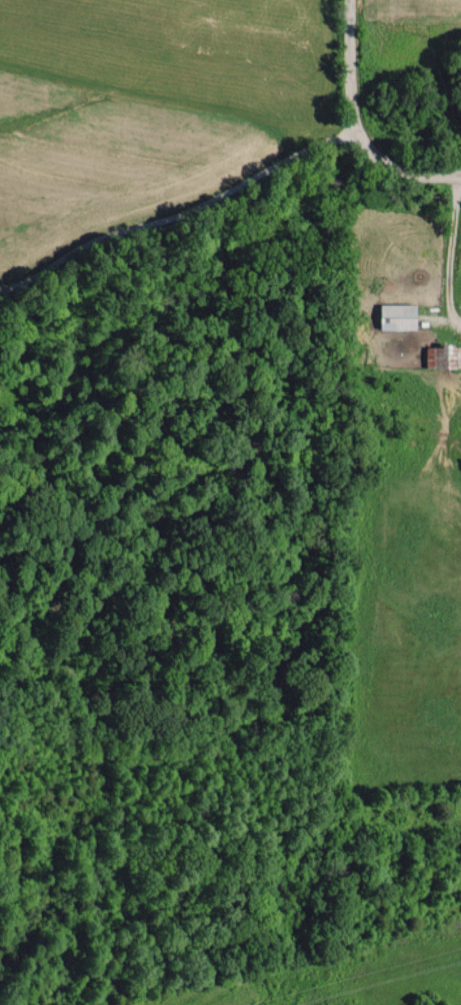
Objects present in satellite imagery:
road: (349, 122)
road: (454, 173)
road: (175, 210)
road: (450, 249)
building: (400, 315)

